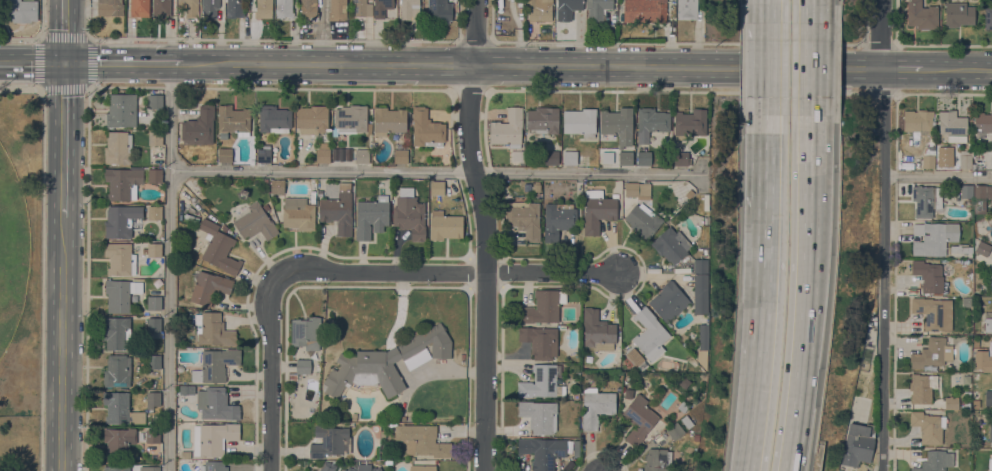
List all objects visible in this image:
building: (439, 3)
building: (110, 7)
building: (189, 7)
building: (382, 7)
building: (139, 8)
building: (161, 8)
building: (210, 8)
building: (234, 8)
building: (263, 8)
building: (361, 8)
building: (567, 8)
building: (597, 8)
building: (284, 9)
building: (309, 9)
building: (337, 9)
building: (410, 9)
building: (687, 9)
building: (19, 10)
building: (539, 10)
building: (645, 10)
road: (770, 11)
road: (809, 11)
building: (440, 13)
building: (958, 14)
building: (921, 15)
building: (988, 18)
road: (65, 30)
road: (878, 34)
road: (39, 37)
road: (40, 39)
road: (32, 61)
traffic signals: (64, 61)
road: (123, 61)
road: (533, 64)
road: (904, 68)
road: (958, 68)
road: (769, 78)
road: (808, 79)
road: (468, 90)
road: (680, 92)
road: (885, 93)
road: (943, 93)
road: (87, 96)
building: (153, 101)
building: (122, 110)
building: (312, 118)
building: (275, 119)
building: (350, 119)
building: (543, 119)
building: (232, 120)
building: (389, 120)
building: (652, 120)
building: (580, 121)
building: (917, 121)
building: (983, 121)
building: (689, 123)
building: (617, 125)
building: (952, 126)
building: (199, 127)
building: (426, 128)
building: (508, 128)
road: (63, 138)
building: (155, 138)
building: (118, 147)
building: (323, 152)
building: (225, 154)
building: (263, 154)
building: (399, 154)
building: (362, 156)
building: (607, 156)
building: (552, 157)
building: (570, 157)
building: (681, 157)
building: (626, 158)
building: (644, 158)
building: (928, 160)
building: (967, 160)
road: (807, 168)
road: (436, 170)
building: (155, 175)
road: (937, 176)
building: (123, 182)
building: (277, 186)
building: (536, 186)
building: (436, 187)
building: (637, 189)
building: (966, 191)
building: (926, 200)
building: (981, 200)
building: (970, 202)
building: (598, 209)
building: (338, 210)
road: (768, 212)
building: (155, 213)
building: (298, 214)
building: (410, 214)
building: (372, 216)
building: (525, 218)
building: (558, 219)
building: (121, 220)
building: (643, 220)
building: (706, 220)
building: (255, 222)
building: (444, 225)
road: (485, 234)
building: (933, 237)
building: (671, 245)
building: (219, 247)
building: (961, 248)
building: (982, 248)
park: (12, 250)
building: (153, 250)
road: (41, 259)
building: (120, 259)
road: (168, 266)
building: (701, 266)
road: (882, 269)
road: (383, 270)
road: (552, 271)
building: (929, 276)
building: (991, 285)
building: (208, 286)
building: (121, 294)
building: (700, 294)
building: (669, 301)
building: (154, 303)
building: (963, 303)
building: (542, 307)
building: (929, 312)
building: (988, 321)
building: (154, 324)
building: (213, 329)
building: (597, 330)
building: (116, 332)
building: (305, 332)
building: (649, 334)
road: (803, 336)
building: (540, 341)
road: (60, 343)
building: (701, 346)
building: (930, 353)
building: (636, 358)
building: (154, 362)
building: (386, 362)
building: (215, 365)
building: (985, 365)
building: (303, 366)
building: (117, 371)
road: (270, 371)
building: (976, 376)
road: (759, 380)
building: (543, 382)
building: (922, 387)
building: (186, 389)
building: (575, 394)
building: (975, 394)
building: (988, 397)
building: (153, 399)
building: (695, 400)
building: (951, 402)
building: (216, 403)
building: (596, 406)
building: (121, 409)
building: (539, 415)
building: (353, 416)
building: (400, 417)
building: (638, 419)
building: (686, 421)
building: (928, 426)
building: (990, 428)
building: (675, 430)
building: (152, 435)
building: (695, 437)
building: (213, 438)
building: (422, 439)
building: (330, 441)
building: (118, 443)
building: (858, 444)
building: (575, 447)
building: (542, 451)
building: (186, 454)
building: (657, 460)
building: (935, 461)
building: (990, 464)
building: (213, 465)
building: (327, 466)
building: (116, 468)
building: (150, 468)
building: (364, 468)
building: (422, 468)

